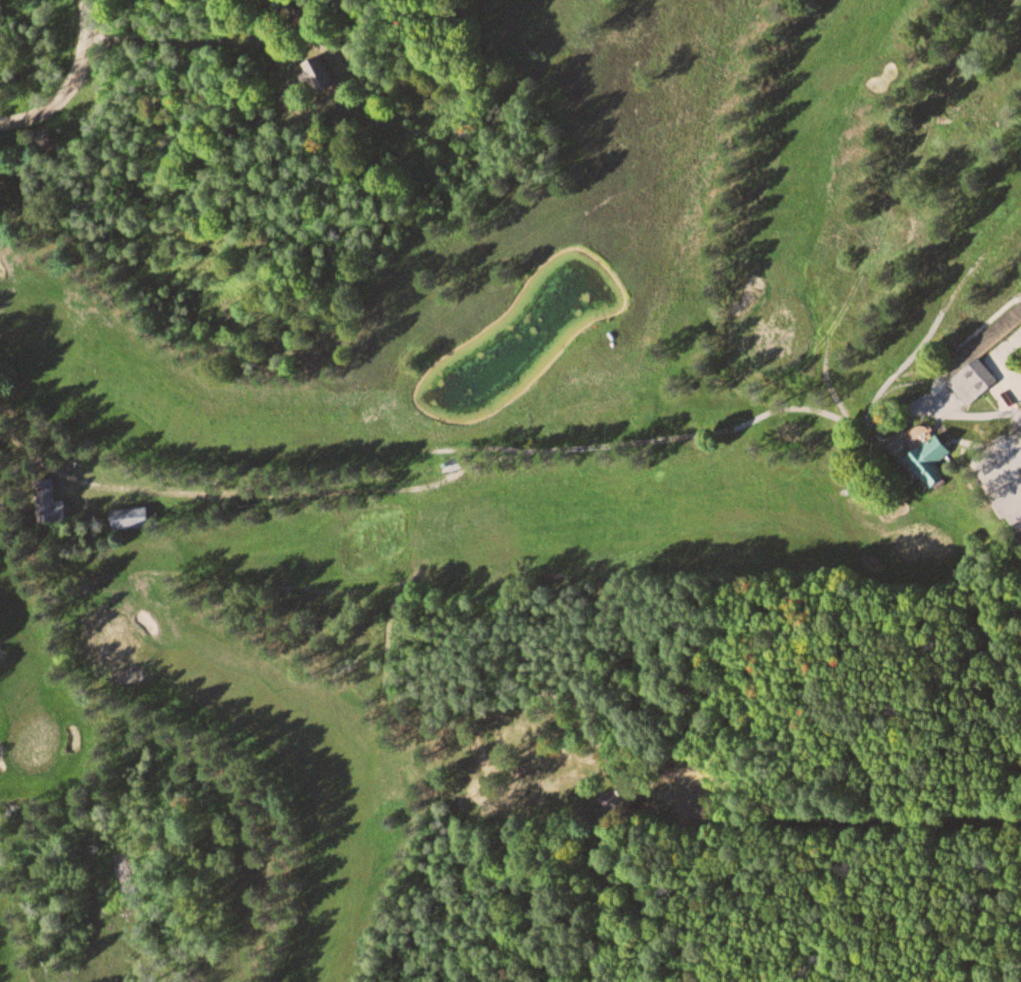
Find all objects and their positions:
building: (322, 71)
road: (82, 90)
building: (976, 381)
road: (30, 446)
building: (935, 459)
road: (1004, 472)
park: (477, 493)
building: (43, 497)
building: (133, 516)
building: (626, 801)

